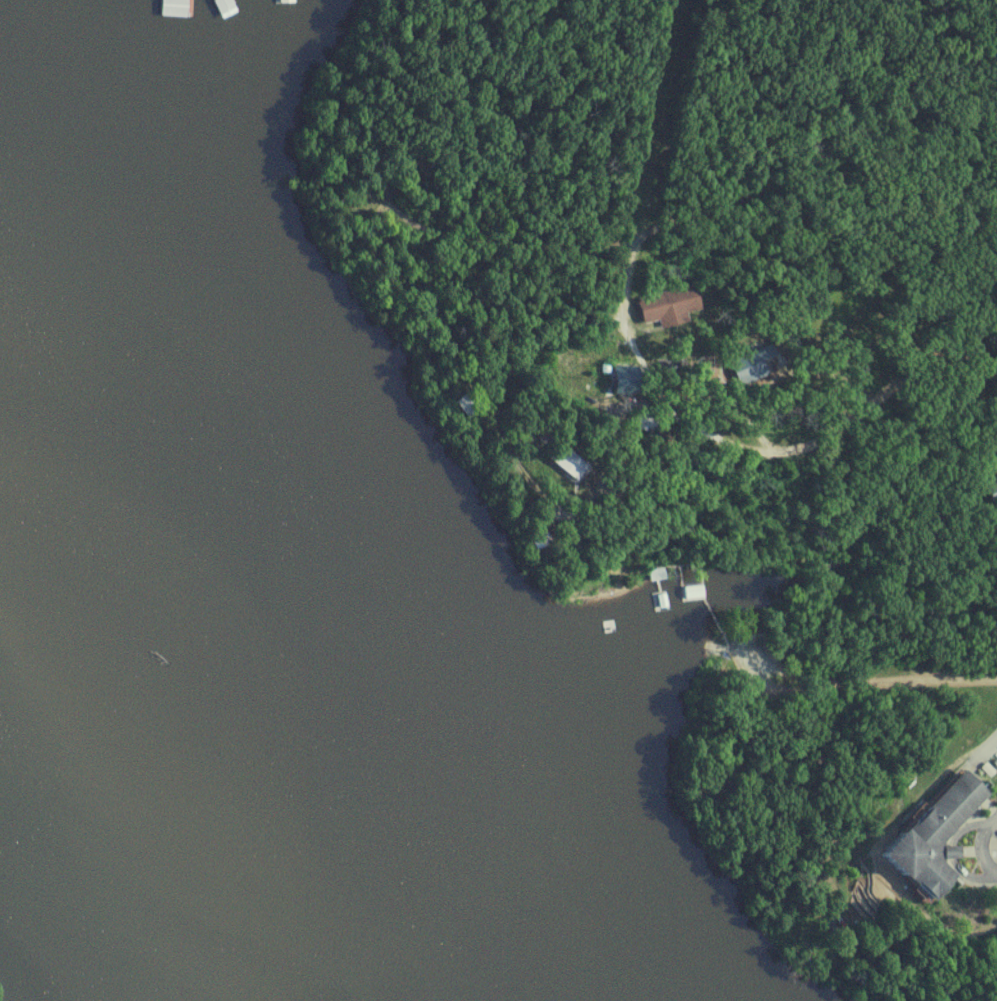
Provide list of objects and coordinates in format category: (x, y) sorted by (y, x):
building: (674, 307)
building: (755, 362)
building: (471, 407)
building: (650, 422)
road: (800, 455)
building: (575, 465)
road: (645, 494)
building: (995, 498)
road: (683, 531)
building: (544, 541)
building: (659, 575)
river: (179, 585)
building: (695, 593)
road: (889, 681)
building: (941, 835)
road: (980, 848)

